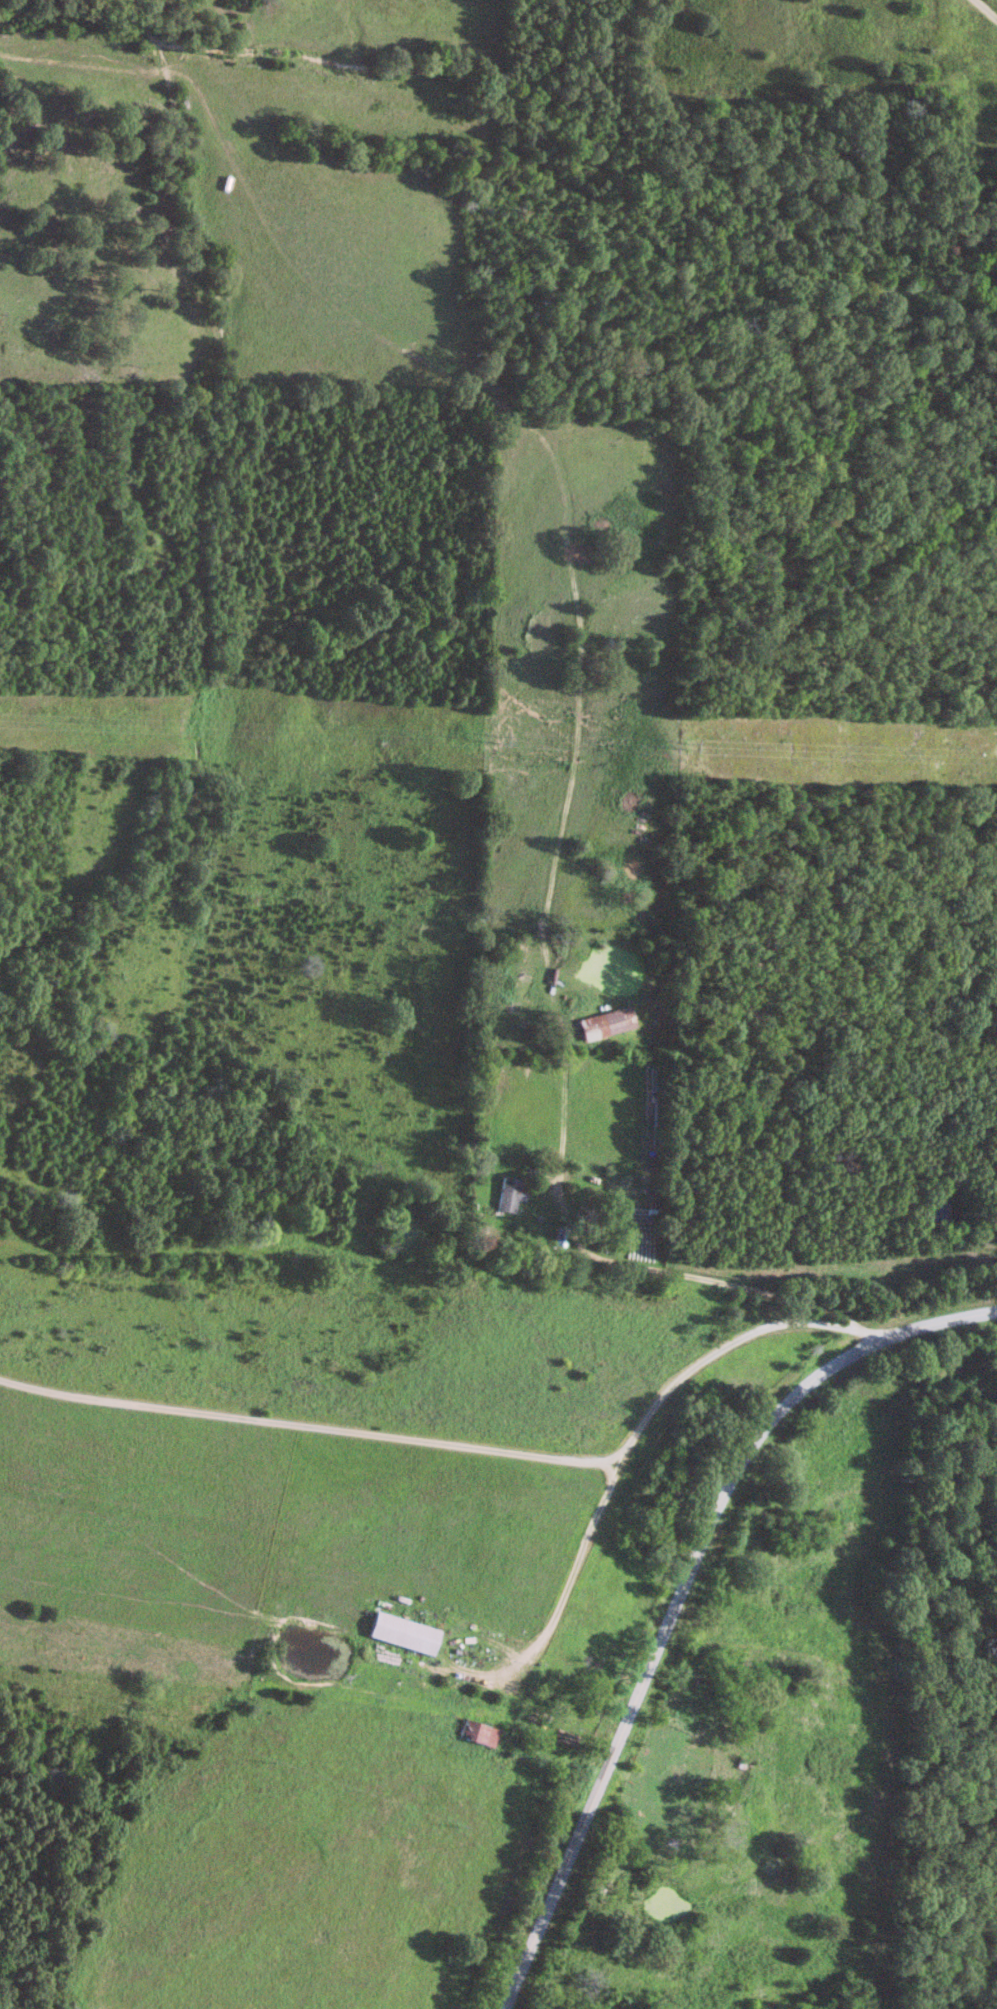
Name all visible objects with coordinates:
building: (603, 1023)
building: (507, 1195)
road: (719, 1279)
road: (467, 1450)
road: (683, 1592)
road: (548, 1634)
building: (477, 1734)

